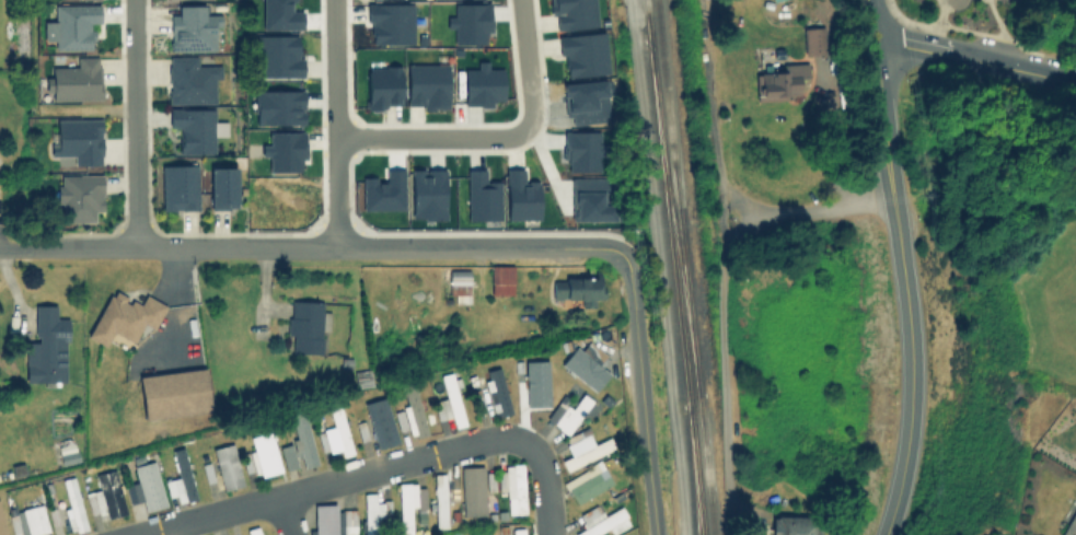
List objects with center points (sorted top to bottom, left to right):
building: (771, 0)
road: (940, 11)
building: (572, 13)
building: (279, 15)
road: (868, 16)
road: (879, 16)
railway: (647, 19)
building: (390, 22)
building: (470, 23)
road: (910, 23)
building: (71, 26)
building: (193, 28)
road: (990, 33)
building: (811, 39)
road: (973, 54)
building: (582, 55)
building: (277, 57)
road: (525, 65)
building: (77, 80)
building: (192, 80)
building: (776, 80)
building: (427, 85)
building: (482, 85)
building: (381, 88)
building: (585, 102)
building: (279, 107)
road: (135, 125)
road: (335, 125)
building: (194, 129)
road: (430, 137)
building: (79, 140)
building: (285, 150)
building: (581, 151)
road: (720, 162)
building: (222, 187)
building: (180, 188)
building: (384, 191)
building: (427, 195)
building: (521, 196)
railway: (676, 196)
building: (80, 197)
building: (281, 197)
building: (482, 197)
building: (591, 199)
railway: (673, 214)
road: (312, 249)
building: (501, 277)
building: (460, 283)
road: (904, 284)
railway: (676, 286)
building: (579, 287)
road: (719, 294)
building: (124, 317)
building: (308, 324)
building: (566, 342)
building: (46, 345)
building: (345, 361)
building: (585, 367)
building: (362, 376)
building: (537, 383)
building: (497, 389)
building: (173, 392)
road: (640, 395)
building: (478, 398)
building: (450, 399)
building: (414, 409)
building: (572, 412)
building: (401, 418)
building: (381, 421)
building: (361, 429)
building: (336, 432)
building: (303, 439)
building: (583, 446)
building: (264, 453)
building: (288, 454)
building: (67, 456)
building: (246, 461)
railway: (705, 464)
building: (227, 466)
road: (389, 466)
building: (18, 467)
railway: (694, 467)
building: (207, 470)
building: (181, 477)
building: (490, 480)
building: (590, 480)
building: (146, 486)
building: (513, 486)
building: (455, 489)
building: (473, 490)
building: (106, 497)
building: (420, 499)
building: (441, 499)
building: (406, 504)
building: (72, 505)
building: (374, 511)
building: (54, 514)
road: (286, 515)
building: (421, 515)
building: (27, 519)
building: (333, 520)
building: (601, 520)
building: (1071, 523)
building: (796, 524)
building: (2, 525)
road: (730, 526)
building: (253, 531)
building: (519, 531)
building: (483, 532)
building: (456, 533)

